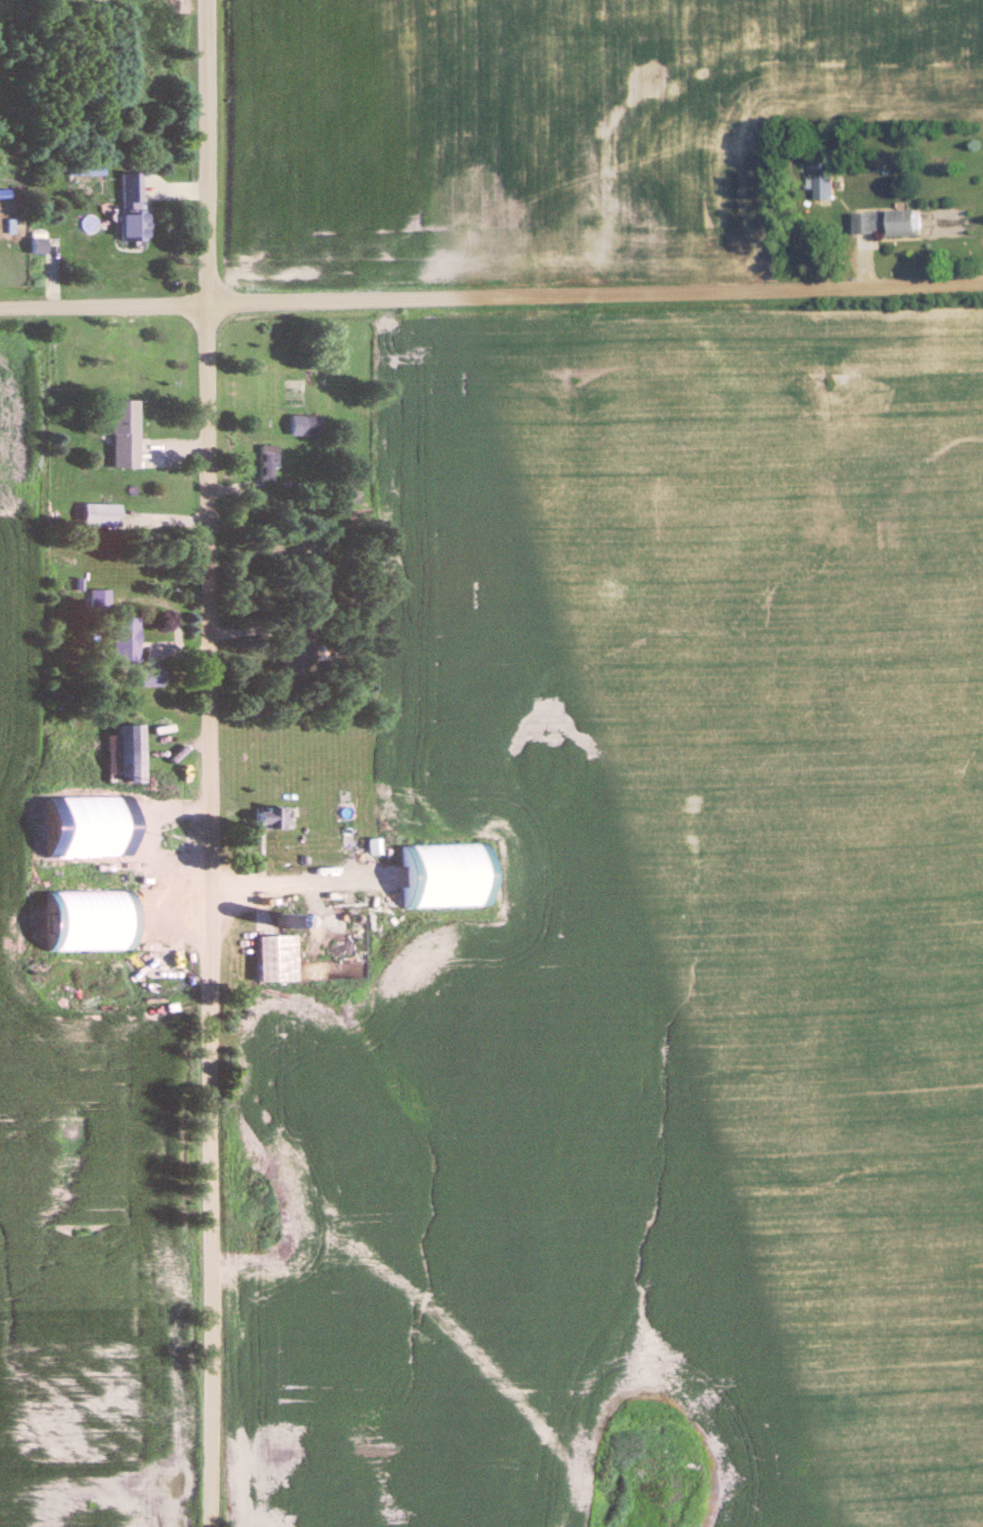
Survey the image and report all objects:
building: (822, 187)
building: (128, 209)
building: (887, 222)
building: (33, 244)
road: (491, 303)
building: (302, 424)
building: (120, 432)
building: (266, 462)
building: (96, 514)
building: (95, 597)
building: (121, 638)
building: (292, 662)
building: (146, 674)
building: (121, 750)
road: (212, 763)
building: (265, 816)
building: (89, 831)
building: (351, 831)
road: (272, 898)
building: (333, 898)
building: (82, 920)
building: (272, 956)

